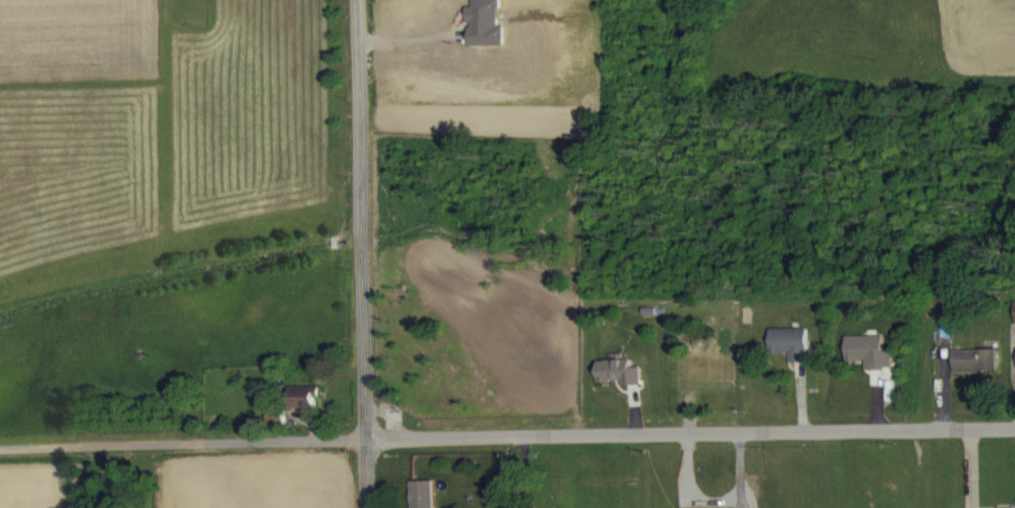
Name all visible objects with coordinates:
road: (360, 219)
building: (1014, 322)
building: (790, 354)
building: (868, 362)
building: (974, 371)
building: (618, 383)
building: (302, 407)
building: (275, 428)
road: (507, 435)
road: (969, 468)
road: (365, 473)
building: (421, 499)

